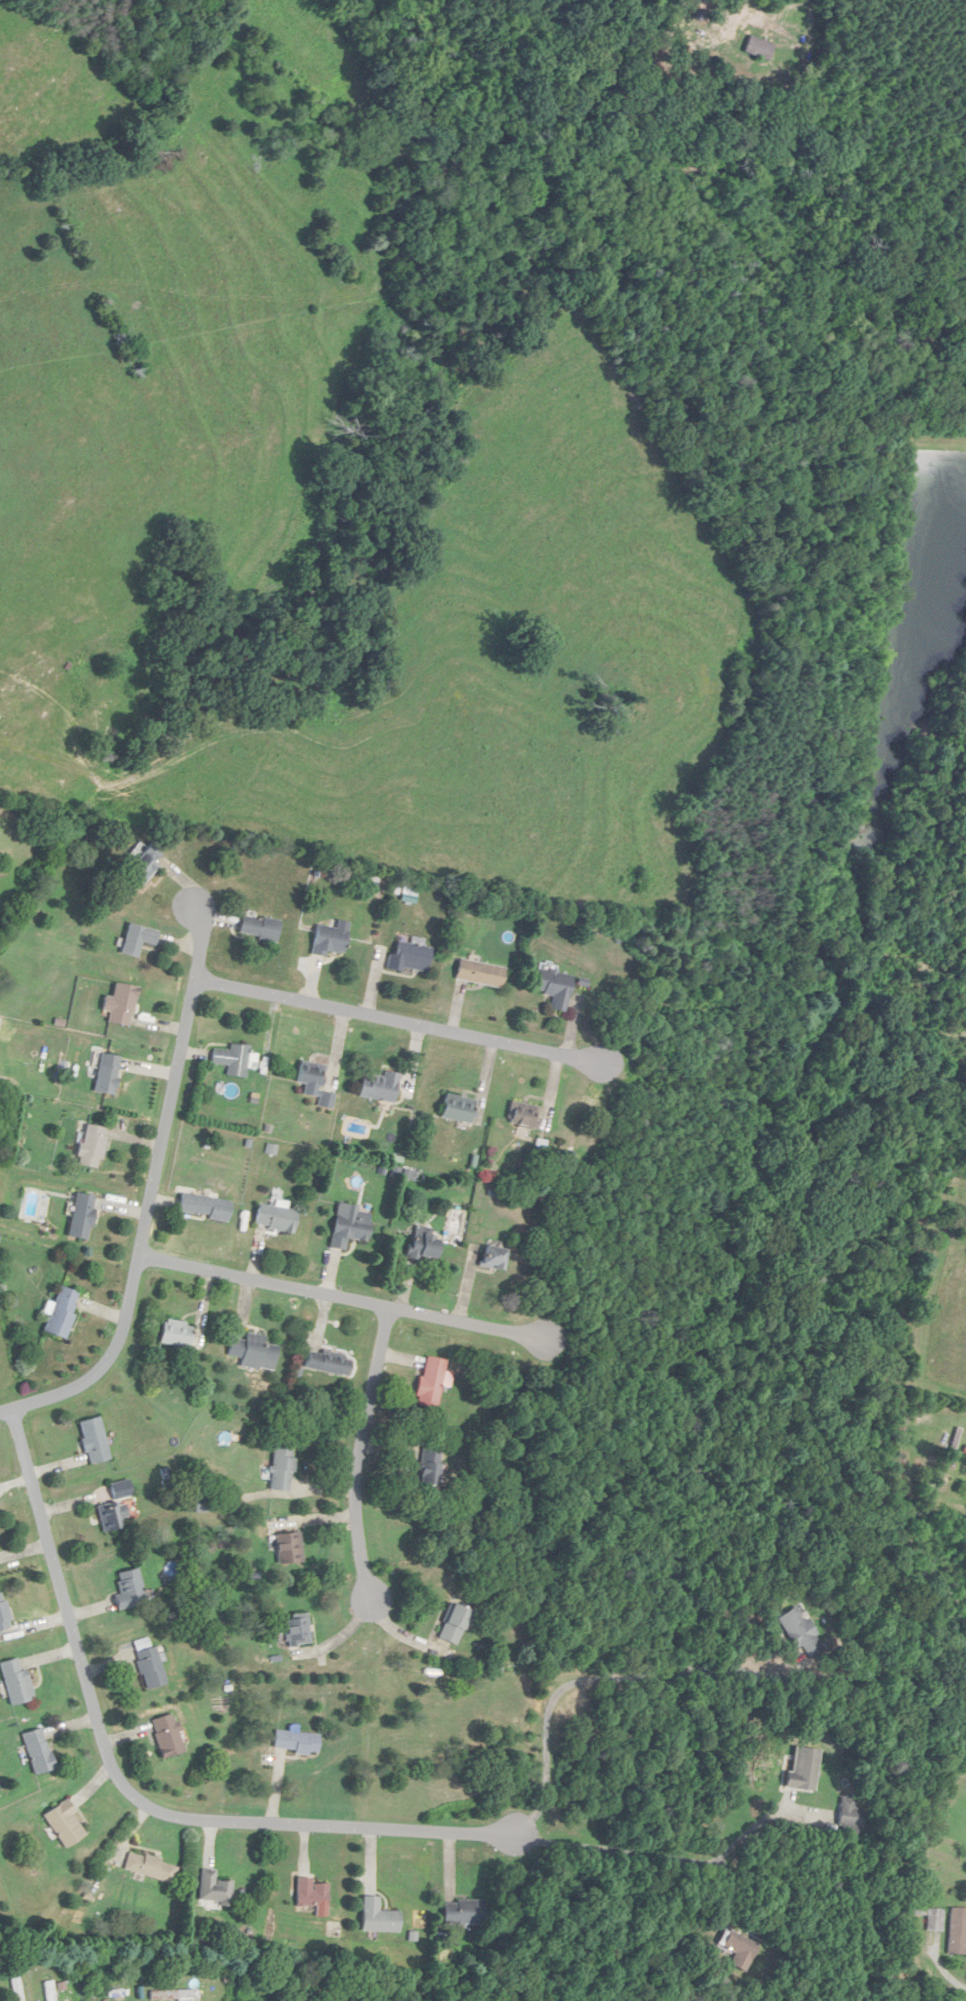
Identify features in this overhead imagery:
building: (143, 864)
building: (258, 928)
building: (138, 940)
building: (327, 941)
building: (410, 957)
building: (479, 974)
building: (554, 988)
building: (120, 1005)
road: (420, 1024)
building: (232, 1061)
building: (106, 1075)
building: (314, 1083)
building: (379, 1088)
building: (457, 1109)
building: (523, 1116)
building: (91, 1147)
road: (156, 1182)
building: (204, 1207)
building: (81, 1217)
building: (275, 1219)
building: (349, 1227)
building: (422, 1243)
building: (491, 1259)
road: (363, 1301)
building: (62, 1313)
building: (176, 1334)
building: (252, 1352)
building: (325, 1362)
building: (430, 1381)
building: (94, 1440)
building: (427, 1465)
building: (281, 1467)
road: (359, 1473)
building: (201, 1504)
building: (114, 1506)
building: (288, 1547)
building: (129, 1589)
building: (3, 1615)
building: (456, 1623)
building: (296, 1629)
building: (800, 1631)
building: (148, 1663)
road: (589, 1677)
building: (15, 1681)
building: (166, 1735)
building: (295, 1741)
building: (37, 1750)
building: (803, 1769)
road: (126, 1792)
building: (852, 1815)
road: (764, 1819)
building: (64, 1824)
road: (662, 1855)
building: (150, 1866)
building: (214, 1888)
building: (311, 1892)
building: (462, 1912)
building: (378, 1916)
building: (935, 1920)
building: (957, 1931)
building: (739, 1949)
road: (945, 1971)
building: (17, 1987)
building: (90, 1993)
building: (171, 1995)

